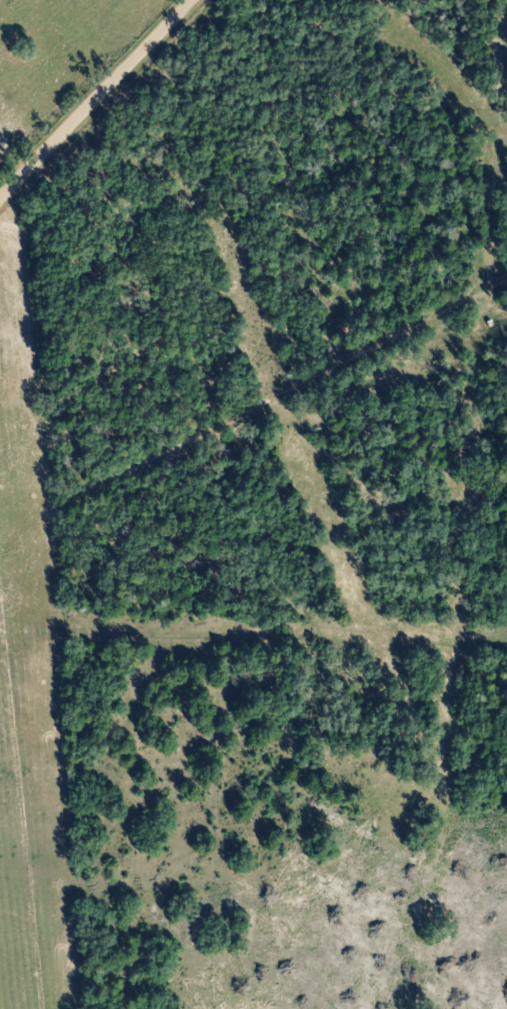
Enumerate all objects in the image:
road: (135, 55)
road: (41, 152)

